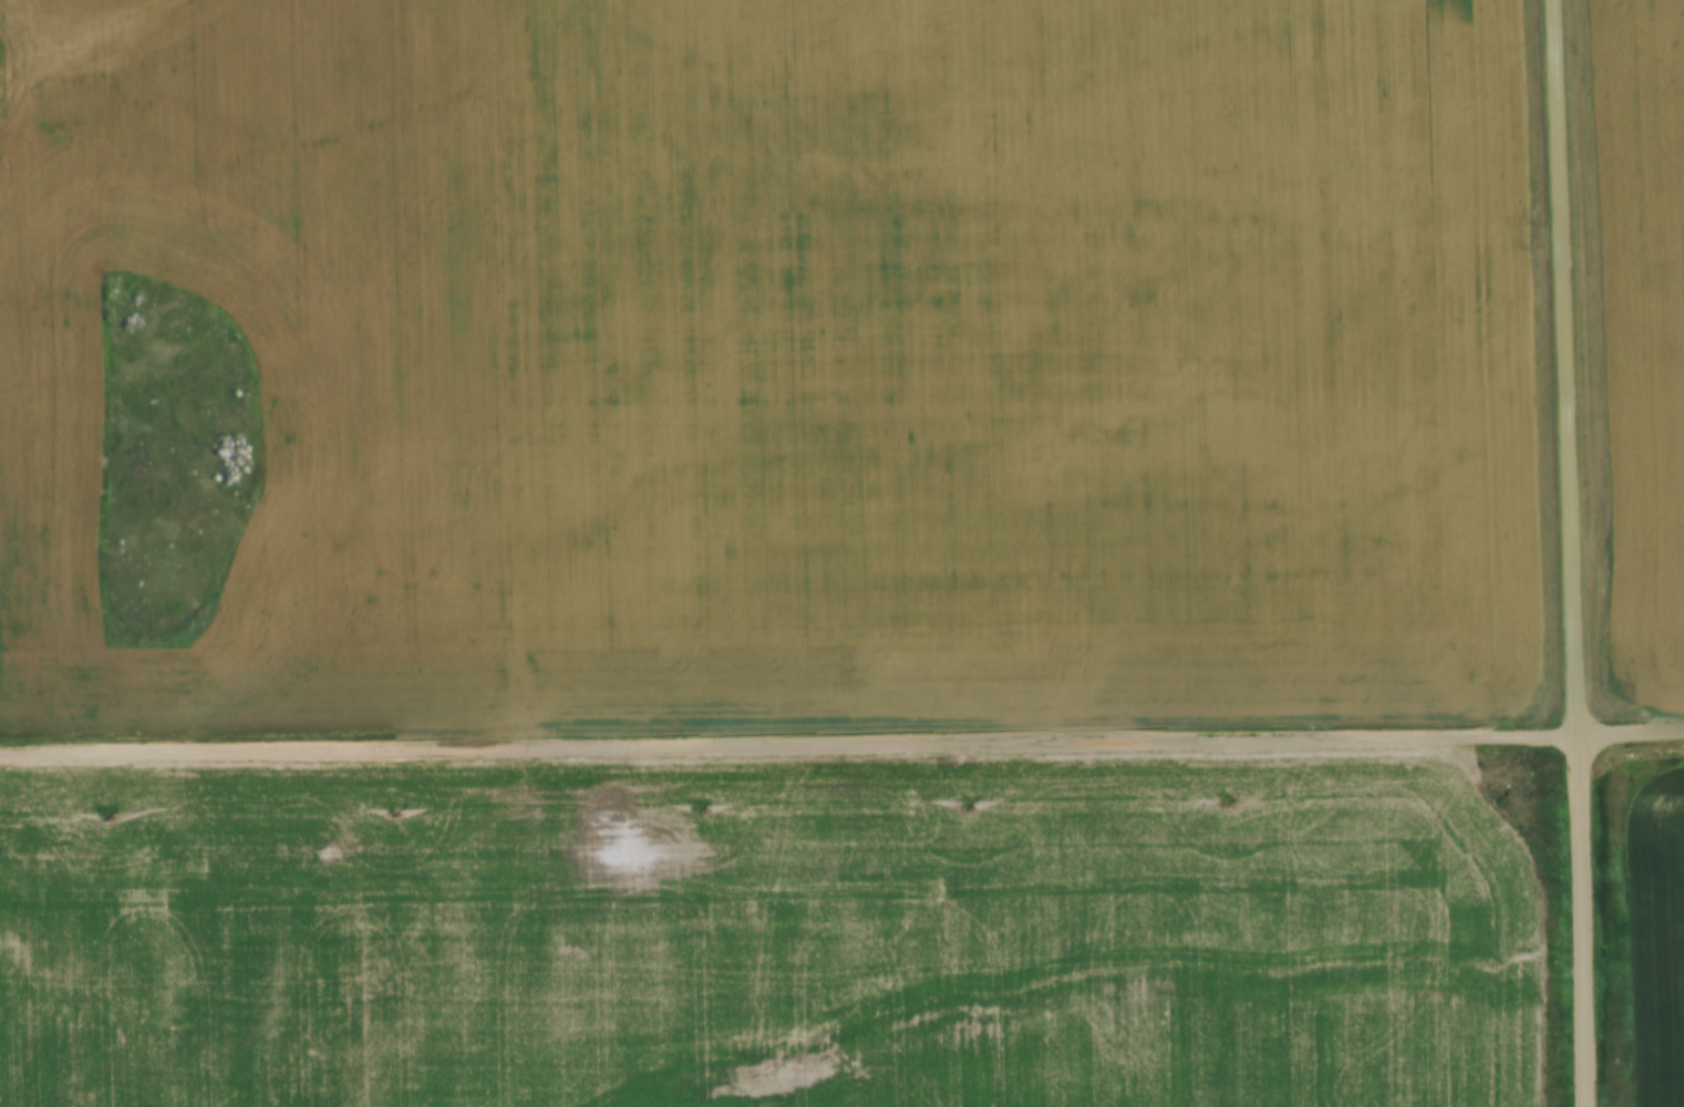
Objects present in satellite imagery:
road: (1570, 552)
road: (1631, 732)
road: (788, 746)

